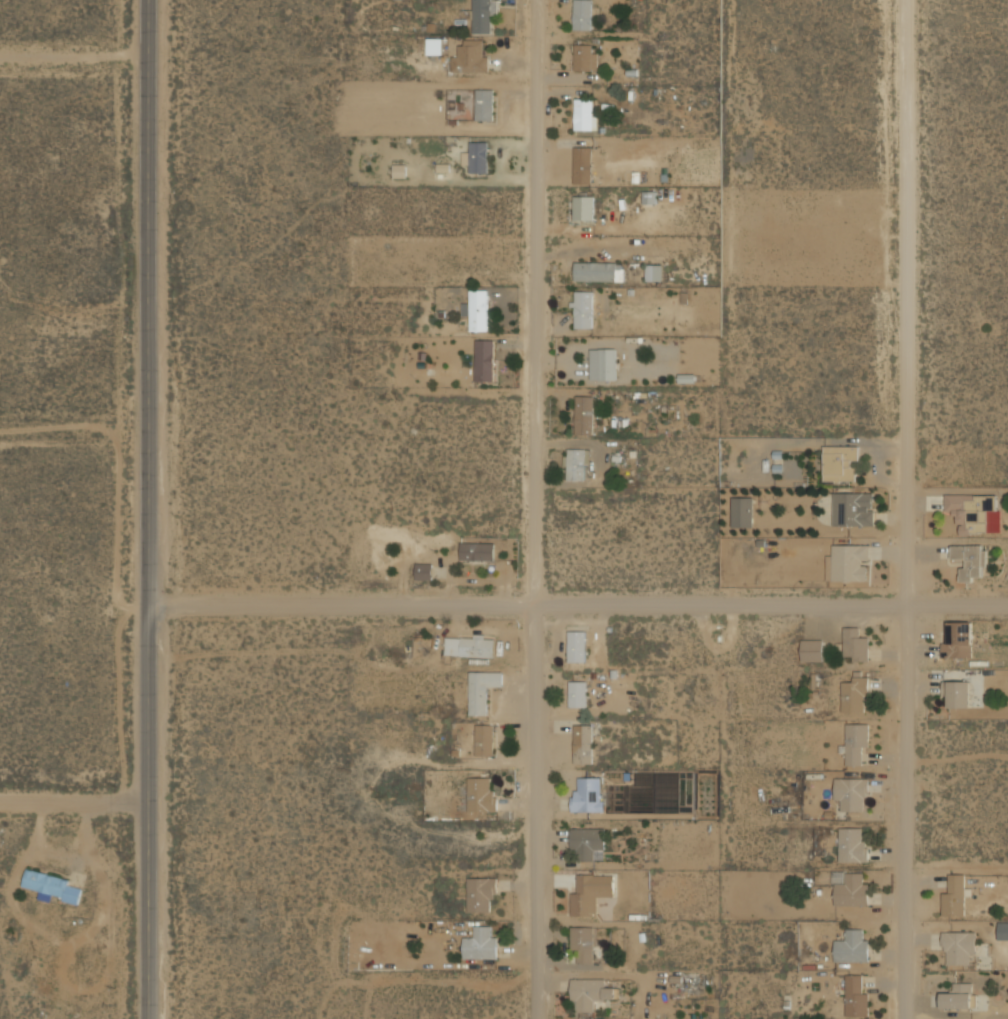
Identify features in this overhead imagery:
building: (483, 14)
building: (582, 14)
building: (435, 45)
road: (73, 55)
building: (469, 55)
building: (585, 57)
building: (484, 104)
building: (457, 112)
building: (585, 114)
building: (476, 156)
building: (583, 164)
building: (584, 207)
building: (599, 270)
building: (653, 272)
building: (582, 308)
building: (476, 309)
building: (484, 360)
building: (603, 363)
building: (584, 414)
road: (73, 432)
building: (840, 463)
building: (575, 464)
building: (852, 508)
road: (146, 509)
road: (538, 509)
road: (908, 509)
building: (742, 512)
building: (974, 512)
building: (477, 551)
building: (970, 560)
building: (848, 563)
building: (424, 570)
road: (577, 608)
building: (958, 640)
building: (854, 644)
building: (469, 645)
building: (577, 646)
building: (812, 649)
building: (482, 690)
building: (578, 693)
building: (959, 694)
building: (855, 695)
building: (484, 739)
building: (583, 743)
building: (857, 744)
building: (852, 793)
building: (481, 794)
building: (588, 794)
road: (73, 804)
building: (587, 844)
building: (852, 846)
building: (52, 886)
building: (852, 890)
building: (589, 892)
building: (480, 893)
building: (953, 895)
building: (481, 943)
building: (582, 945)
building: (852, 947)
building: (960, 948)
building: (589, 993)
building: (855, 996)
building: (958, 996)

